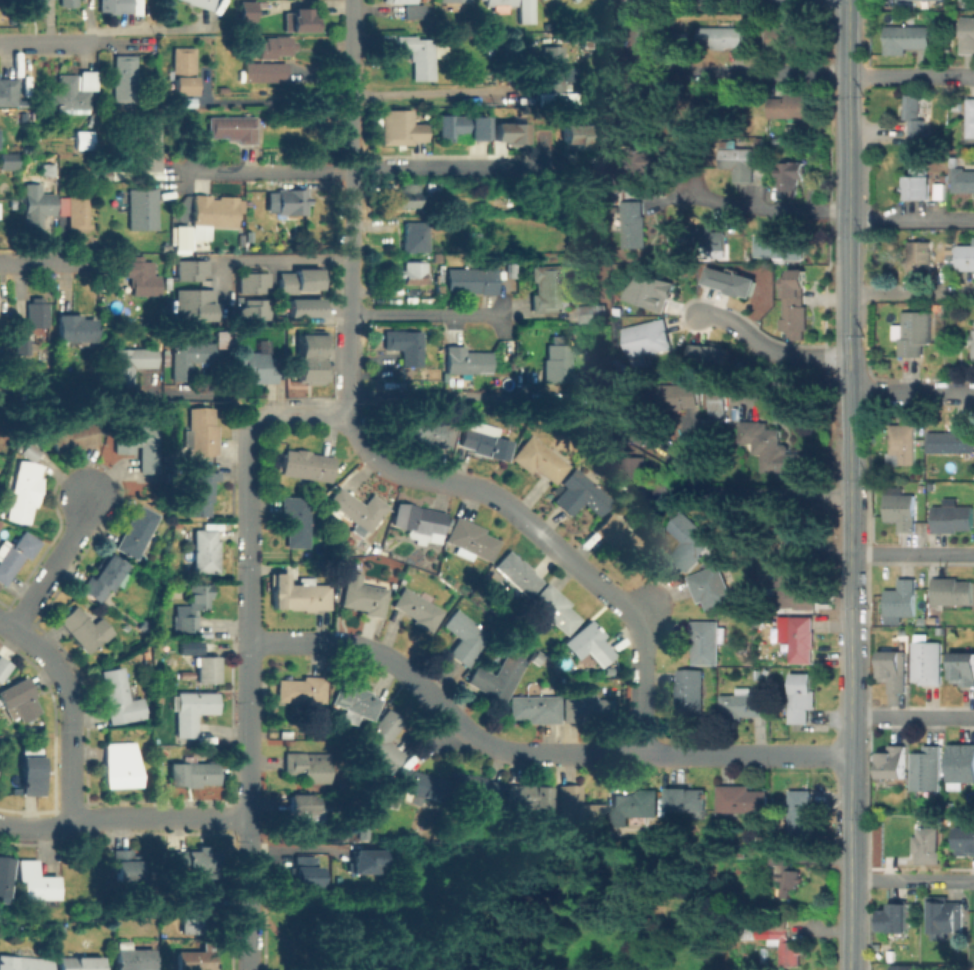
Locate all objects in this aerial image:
building: (455, 0)
building: (899, 0)
building: (68, 2)
building: (32, 3)
building: (202, 3)
building: (499, 4)
building: (115, 5)
building: (411, 8)
building: (246, 11)
building: (525, 11)
building: (304, 22)
building: (968, 35)
building: (721, 37)
building: (789, 38)
building: (906, 38)
road: (49, 42)
building: (642, 42)
building: (275, 45)
building: (422, 52)
building: (552, 68)
building: (182, 70)
building: (265, 70)
road: (764, 71)
road: (910, 76)
building: (124, 79)
building: (8, 91)
building: (71, 91)
road: (418, 98)
road: (275, 100)
building: (184, 102)
building: (638, 103)
building: (713, 106)
building: (793, 106)
building: (914, 115)
building: (970, 118)
building: (229, 127)
building: (462, 127)
building: (399, 128)
road: (848, 128)
building: (510, 132)
building: (578, 135)
building: (85, 141)
building: (148, 144)
building: (782, 144)
building: (9, 160)
road: (443, 164)
building: (644, 164)
building: (740, 164)
building: (48, 170)
road: (263, 171)
building: (118, 176)
building: (90, 178)
building: (789, 178)
building: (963, 182)
building: (916, 183)
building: (412, 192)
building: (289, 200)
building: (37, 207)
building: (0, 208)
road: (350, 208)
building: (78, 210)
building: (143, 210)
road: (823, 210)
building: (215, 212)
building: (636, 224)
building: (416, 237)
building: (182, 238)
building: (702, 240)
building: (776, 245)
building: (919, 256)
building: (965, 257)
road: (268, 259)
road: (49, 261)
building: (188, 269)
building: (510, 271)
building: (414, 272)
building: (143, 277)
building: (471, 279)
building: (300, 281)
building: (731, 281)
building: (252, 282)
building: (548, 287)
building: (649, 290)
road: (911, 290)
building: (193, 304)
building: (794, 305)
building: (302, 306)
road: (849, 306)
building: (252, 309)
building: (37, 312)
road: (423, 312)
building: (593, 313)
building: (76, 329)
building: (914, 334)
building: (648, 338)
building: (225, 340)
building: (972, 341)
building: (405, 344)
building: (22, 345)
road: (769, 348)
building: (711, 356)
building: (190, 357)
building: (309, 358)
building: (466, 360)
building: (132, 362)
building: (557, 362)
building: (258, 366)
road: (786, 382)
road: (911, 391)
building: (678, 394)
road: (212, 395)
building: (716, 409)
road: (300, 417)
road: (849, 417)
building: (642, 428)
building: (423, 429)
building: (200, 432)
building: (73, 437)
building: (952, 441)
building: (137, 443)
building: (483, 445)
building: (903, 445)
building: (779, 453)
building: (538, 459)
building: (307, 465)
building: (634, 475)
building: (24, 486)
building: (932, 486)
building: (201, 491)
building: (580, 494)
road: (759, 496)
building: (357, 509)
building: (901, 511)
building: (954, 518)
building: (294, 521)
building: (418, 522)
road: (245, 527)
building: (137, 533)
building: (798, 534)
building: (617, 535)
building: (470, 540)
building: (689, 540)
road: (550, 542)
building: (202, 549)
road: (912, 553)
building: (15, 554)
road: (56, 562)
building: (515, 576)
building: (105, 577)
building: (710, 588)
building: (792, 589)
building: (297, 592)
building: (954, 592)
building: (365, 596)
building: (902, 599)
building: (746, 600)
road: (640, 606)
building: (195, 607)
building: (551, 609)
building: (416, 610)
building: (920, 619)
building: (931, 619)
road: (6, 625)
building: (85, 629)
building: (937, 629)
building: (902, 631)
building: (464, 637)
building: (802, 641)
building: (707, 642)
building: (590, 643)
building: (924, 661)
building: (2, 667)
building: (964, 669)
building: (207, 671)
building: (895, 671)
building: (496, 680)
building: (300, 689)
building: (691, 692)
building: (120, 698)
building: (801, 698)
building: (20, 700)
building: (353, 702)
building: (743, 705)
building: (534, 709)
building: (195, 711)
building: (587, 711)
road: (70, 713)
road: (912, 717)
road: (850, 724)
road: (441, 725)
building: (380, 742)
road: (531, 752)
building: (895, 763)
building: (121, 765)
building: (309, 767)
building: (961, 767)
road: (247, 768)
building: (928, 770)
building: (30, 771)
building: (193, 774)
building: (420, 784)
building: (477, 793)
building: (528, 800)
building: (743, 800)
building: (394, 801)
building: (690, 802)
building: (634, 807)
building: (576, 808)
road: (123, 815)
building: (802, 816)
building: (307, 818)
building: (966, 838)
building: (927, 846)
building: (363, 860)
building: (194, 862)
building: (128, 868)
building: (305, 872)
building: (785, 872)
building: (4, 874)
building: (34, 880)
road: (911, 880)
building: (194, 907)
park: (523, 912)
building: (896, 918)
building: (947, 918)
road: (248, 933)
building: (778, 940)
building: (132, 958)
building: (195, 959)
road: (338, 960)
building: (80, 961)
building: (23, 963)
building: (920, 968)

